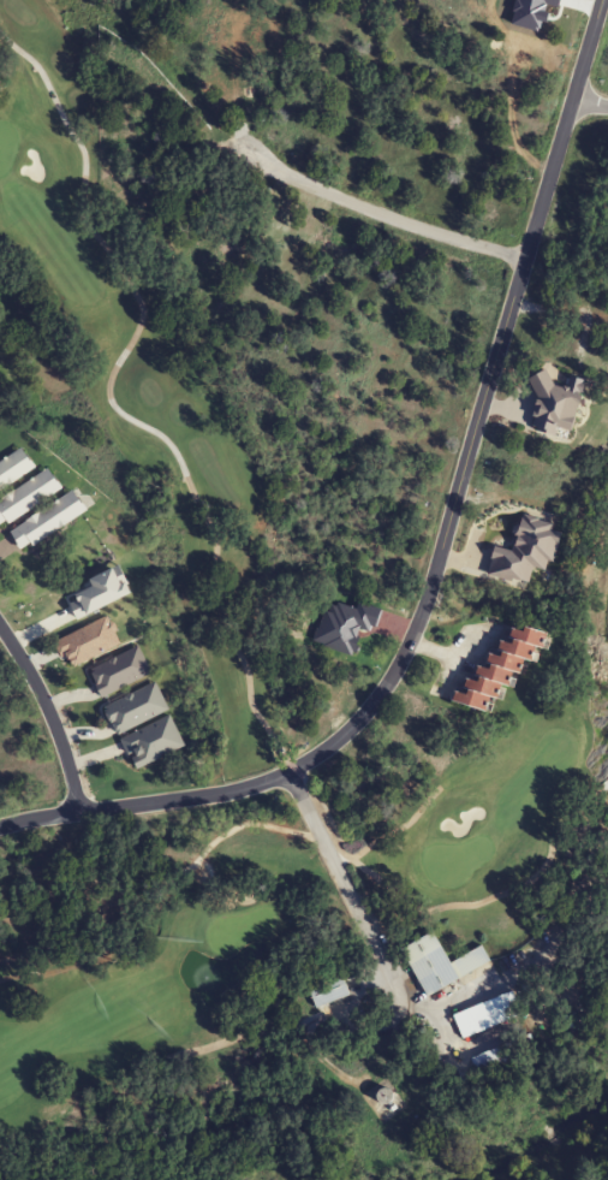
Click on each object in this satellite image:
road: (589, 106)
road: (389, 218)
building: (13, 468)
building: (26, 497)
building: (47, 521)
road: (440, 550)
park: (233, 598)
building: (501, 666)
building: (119, 671)
building: (136, 707)
road: (49, 713)
building: (151, 742)
road: (346, 888)
building: (440, 963)
building: (327, 990)
building: (487, 1014)
park: (203, 1037)
building: (491, 1059)

